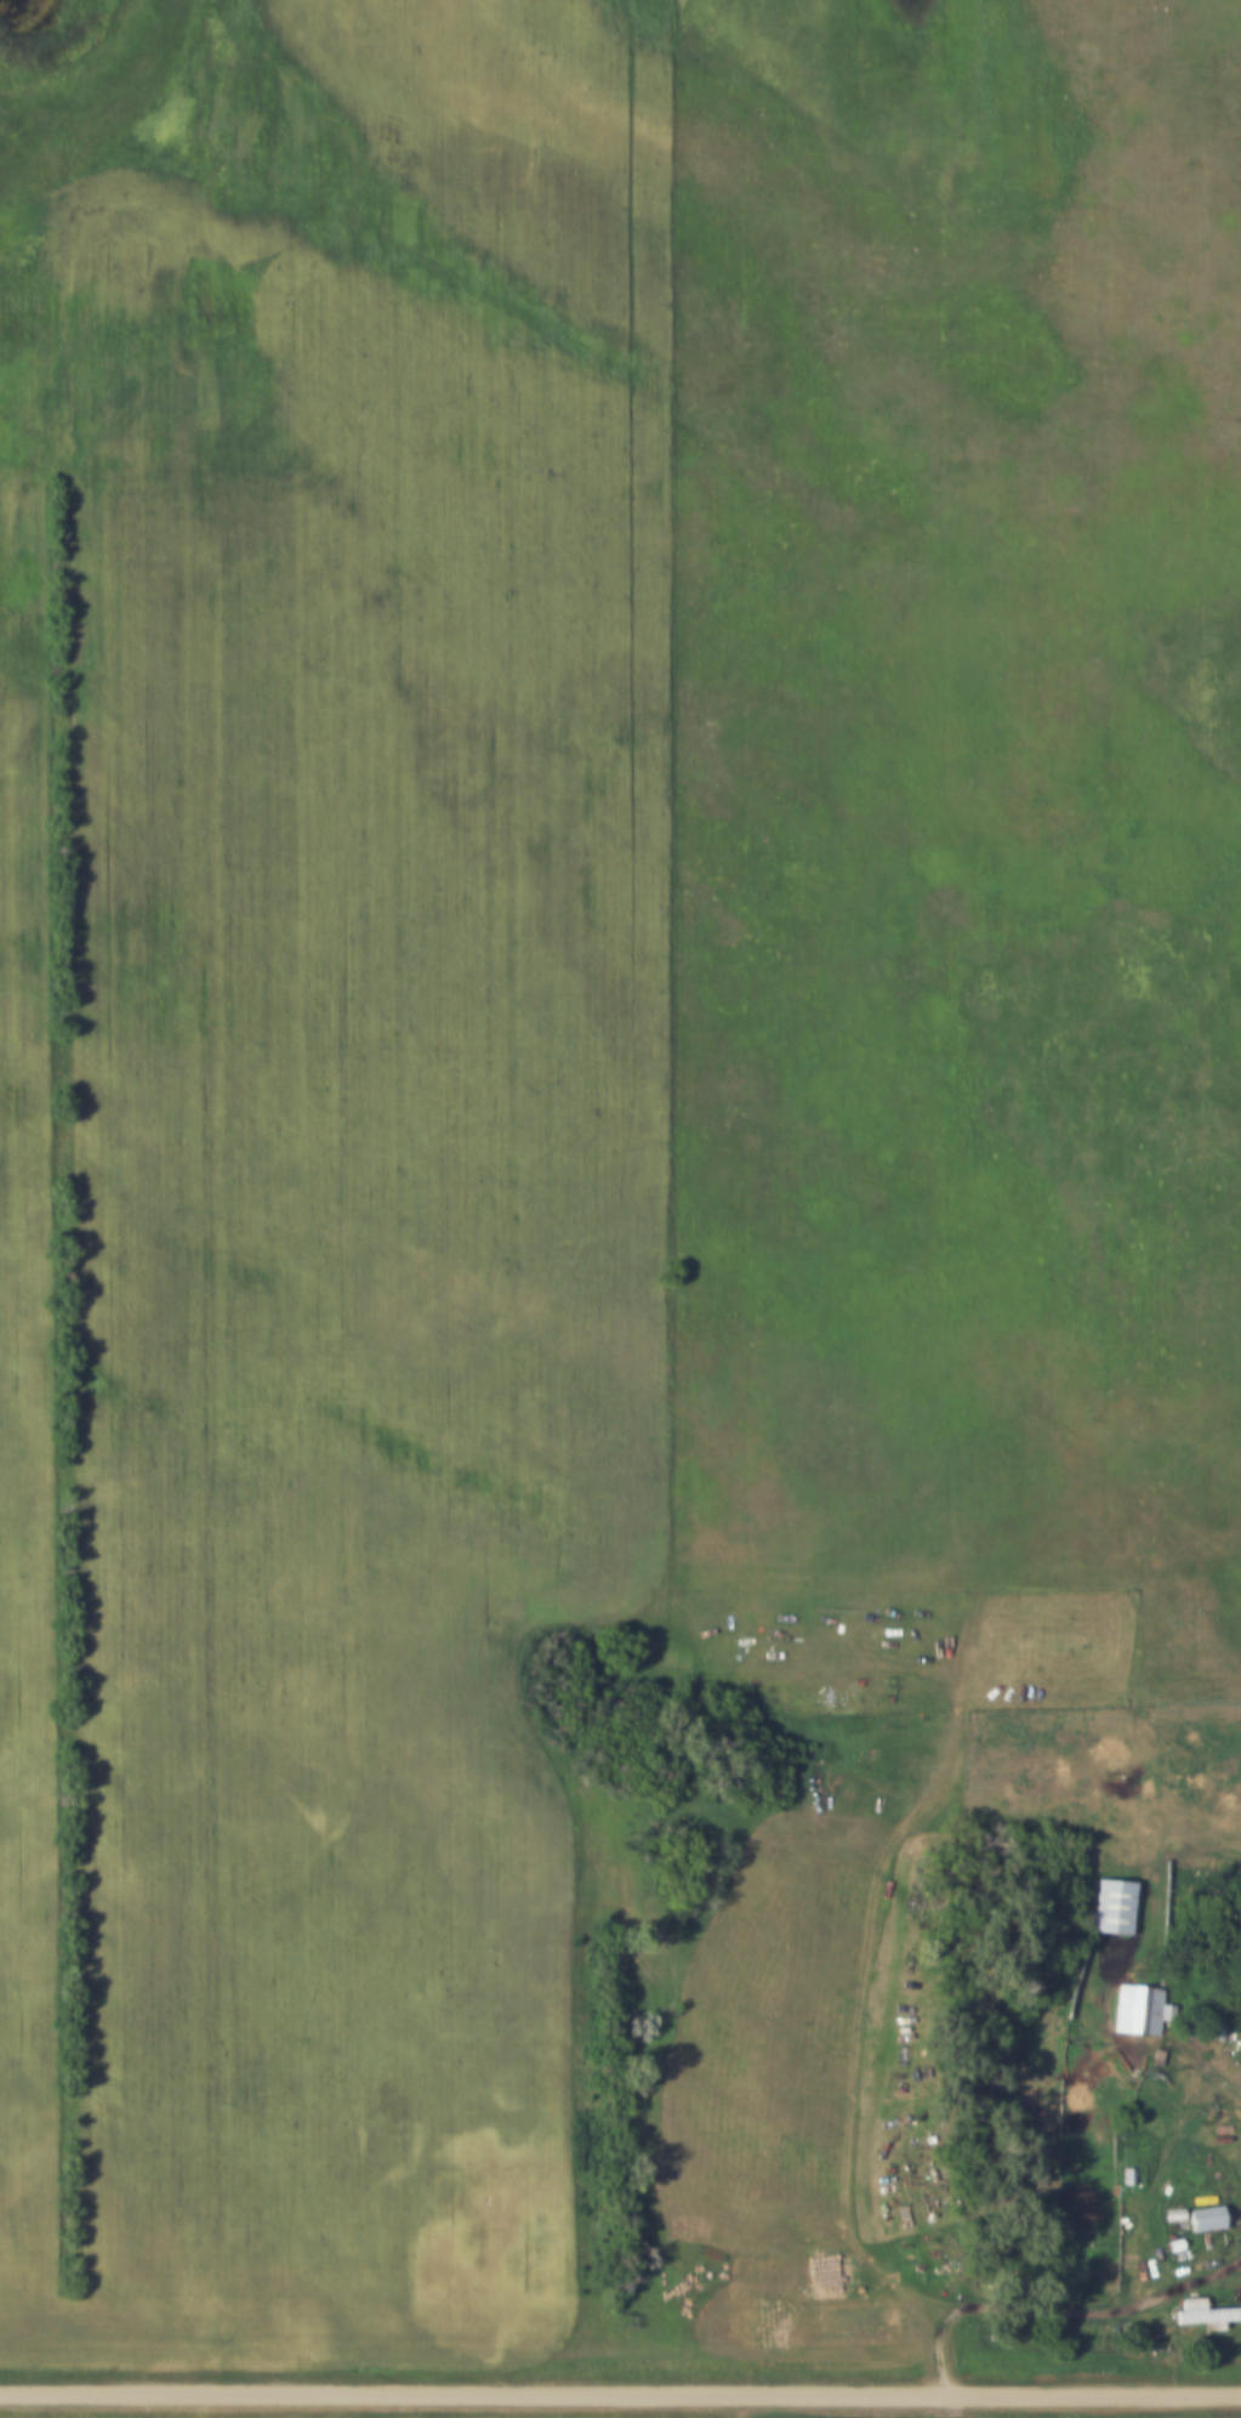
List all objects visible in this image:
building: (1111, 1906)
road: (907, 1985)
building: (1139, 2009)
road: (1214, 2071)
building: (1140, 2155)
building: (1203, 2220)
road: (1212, 2271)
building: (1202, 2314)
road: (620, 2393)

